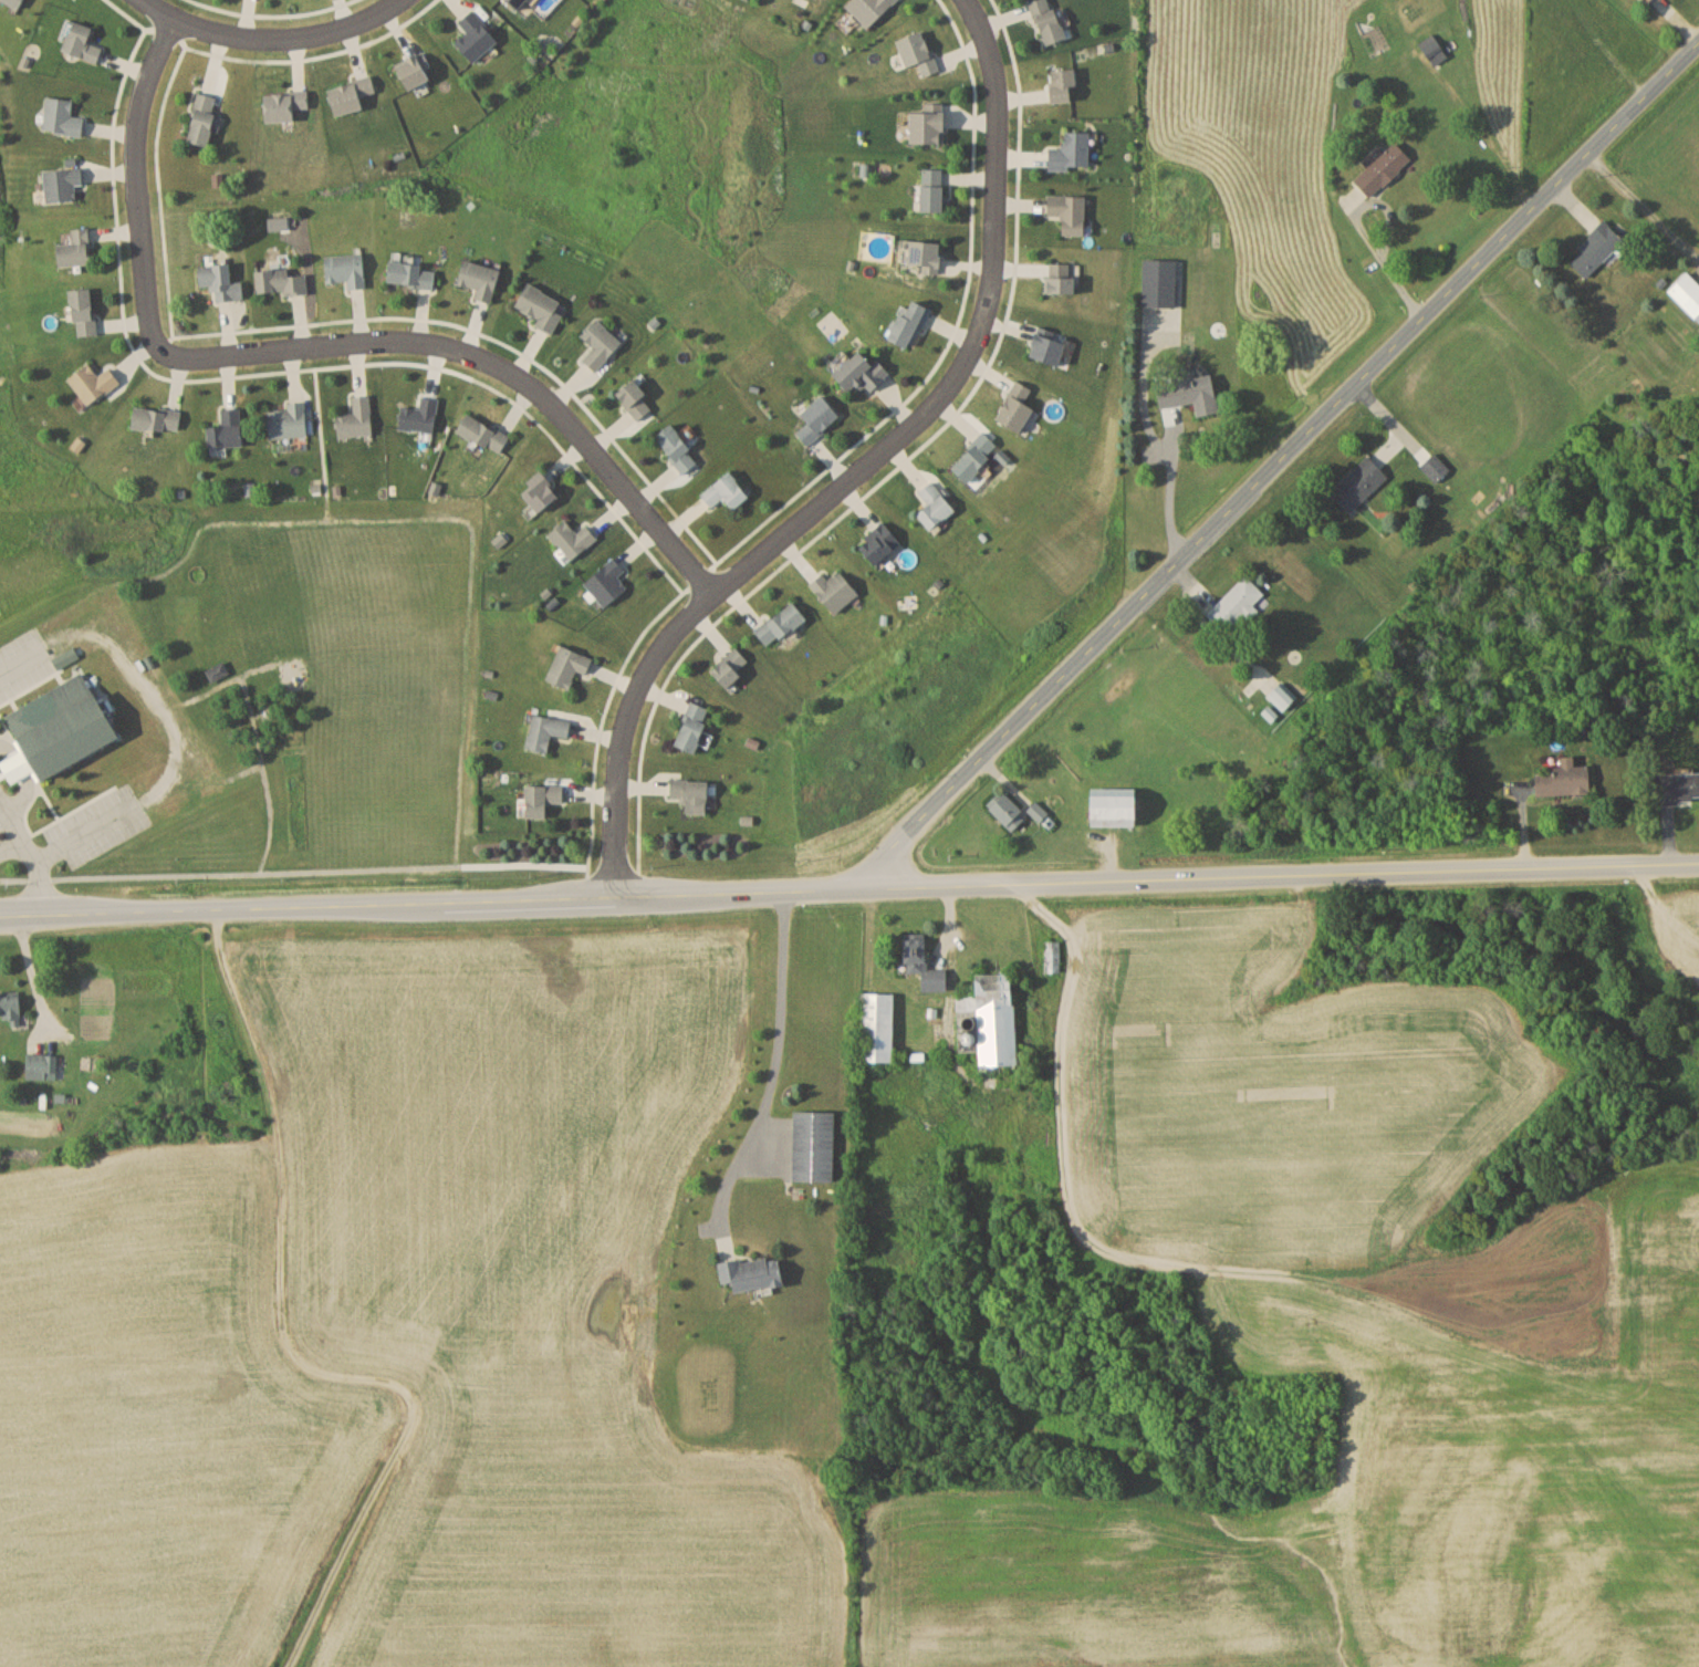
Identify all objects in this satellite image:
building: (1649, 0)
building: (15, 2)
building: (517, 3)
building: (871, 9)
building: (1050, 21)
building: (477, 35)
road: (271, 41)
building: (82, 42)
building: (1435, 49)
building: (919, 52)
building: (415, 72)
building: (1064, 84)
building: (351, 94)
building: (284, 104)
building: (62, 117)
building: (204, 118)
building: (930, 126)
building: (1073, 152)
building: (1385, 168)
building: (63, 183)
building: (935, 189)
road: (137, 201)
building: (1071, 212)
building: (76, 248)
building: (1597, 249)
building: (923, 253)
road: (1385, 261)
building: (346, 269)
building: (410, 271)
building: (481, 279)
building: (1062, 279)
building: (218, 280)
building: (281, 282)
building: (1161, 282)
building: (1688, 293)
building: (541, 306)
building: (84, 310)
building: (911, 322)
building: (601, 343)
building: (1050, 348)
building: (862, 372)
road: (502, 375)
building: (94, 383)
building: (1191, 393)
building: (636, 399)
building: (1018, 407)
building: (421, 415)
building: (157, 418)
building: (357, 418)
building: (819, 419)
building: (289, 420)
road: (320, 421)
building: (228, 429)
building: (483, 433)
building: (678, 448)
building: (977, 457)
road: (1279, 460)
road: (865, 467)
building: (1436, 467)
building: (1361, 483)
building: (542, 491)
road: (1170, 491)
building: (727, 492)
road: (320, 506)
building: (935, 506)
road: (393, 517)
building: (573, 538)
building: (880, 543)
building: (608, 582)
building: (835, 590)
building: (1237, 604)
building: (782, 624)
road: (25, 658)
parking lot: (25, 659)
building: (570, 666)
building: (731, 668)
road: (230, 681)
road: (300, 684)
road: (152, 697)
building: (1282, 697)
park: (56, 723)
building: (694, 727)
building: (60, 729)
building: (546, 731)
road: (259, 772)
road: (25, 779)
building: (1566, 779)
building: (1678, 786)
road: (205, 792)
building: (691, 794)
building: (543, 799)
building: (1118, 808)
building: (1009, 811)
parking lot: (1, 819)
parking lot: (100, 826)
road: (88, 833)
road: (11, 847)
road: (28, 848)
road: (222, 866)
road: (848, 883)
building: (1053, 956)
road: (25, 963)
building: (925, 966)
building: (11, 1007)
building: (997, 1019)
building: (878, 1028)
park: (91, 1031)
road: (771, 1063)
building: (42, 1065)
building: (814, 1146)
building: (754, 1274)

